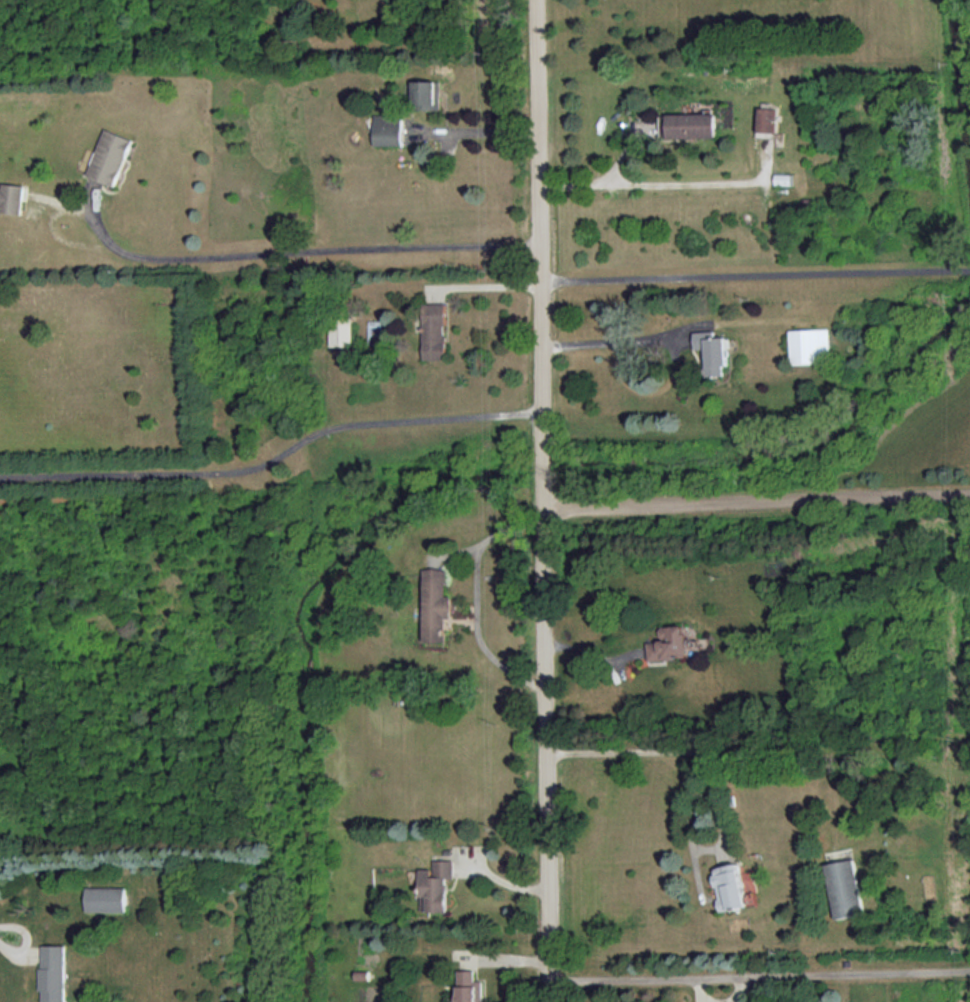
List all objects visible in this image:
building: (428, 94)
building: (767, 121)
building: (688, 124)
road: (484, 127)
building: (389, 129)
building: (109, 156)
road: (601, 180)
road: (701, 182)
building: (11, 197)
road: (296, 248)
road: (754, 274)
road: (487, 285)
building: (435, 330)
building: (341, 331)
building: (375, 331)
road: (612, 336)
building: (810, 345)
building: (712, 350)
road: (274, 456)
road: (546, 500)
road: (758, 502)
road: (478, 598)
building: (438, 604)
building: (671, 643)
road: (594, 650)
road: (697, 754)
road: (730, 836)
road: (504, 878)
building: (436, 885)
building: (732, 886)
building: (847, 888)
building: (106, 898)
road: (6, 947)
building: (53, 973)
road: (760, 973)
building: (470, 986)

